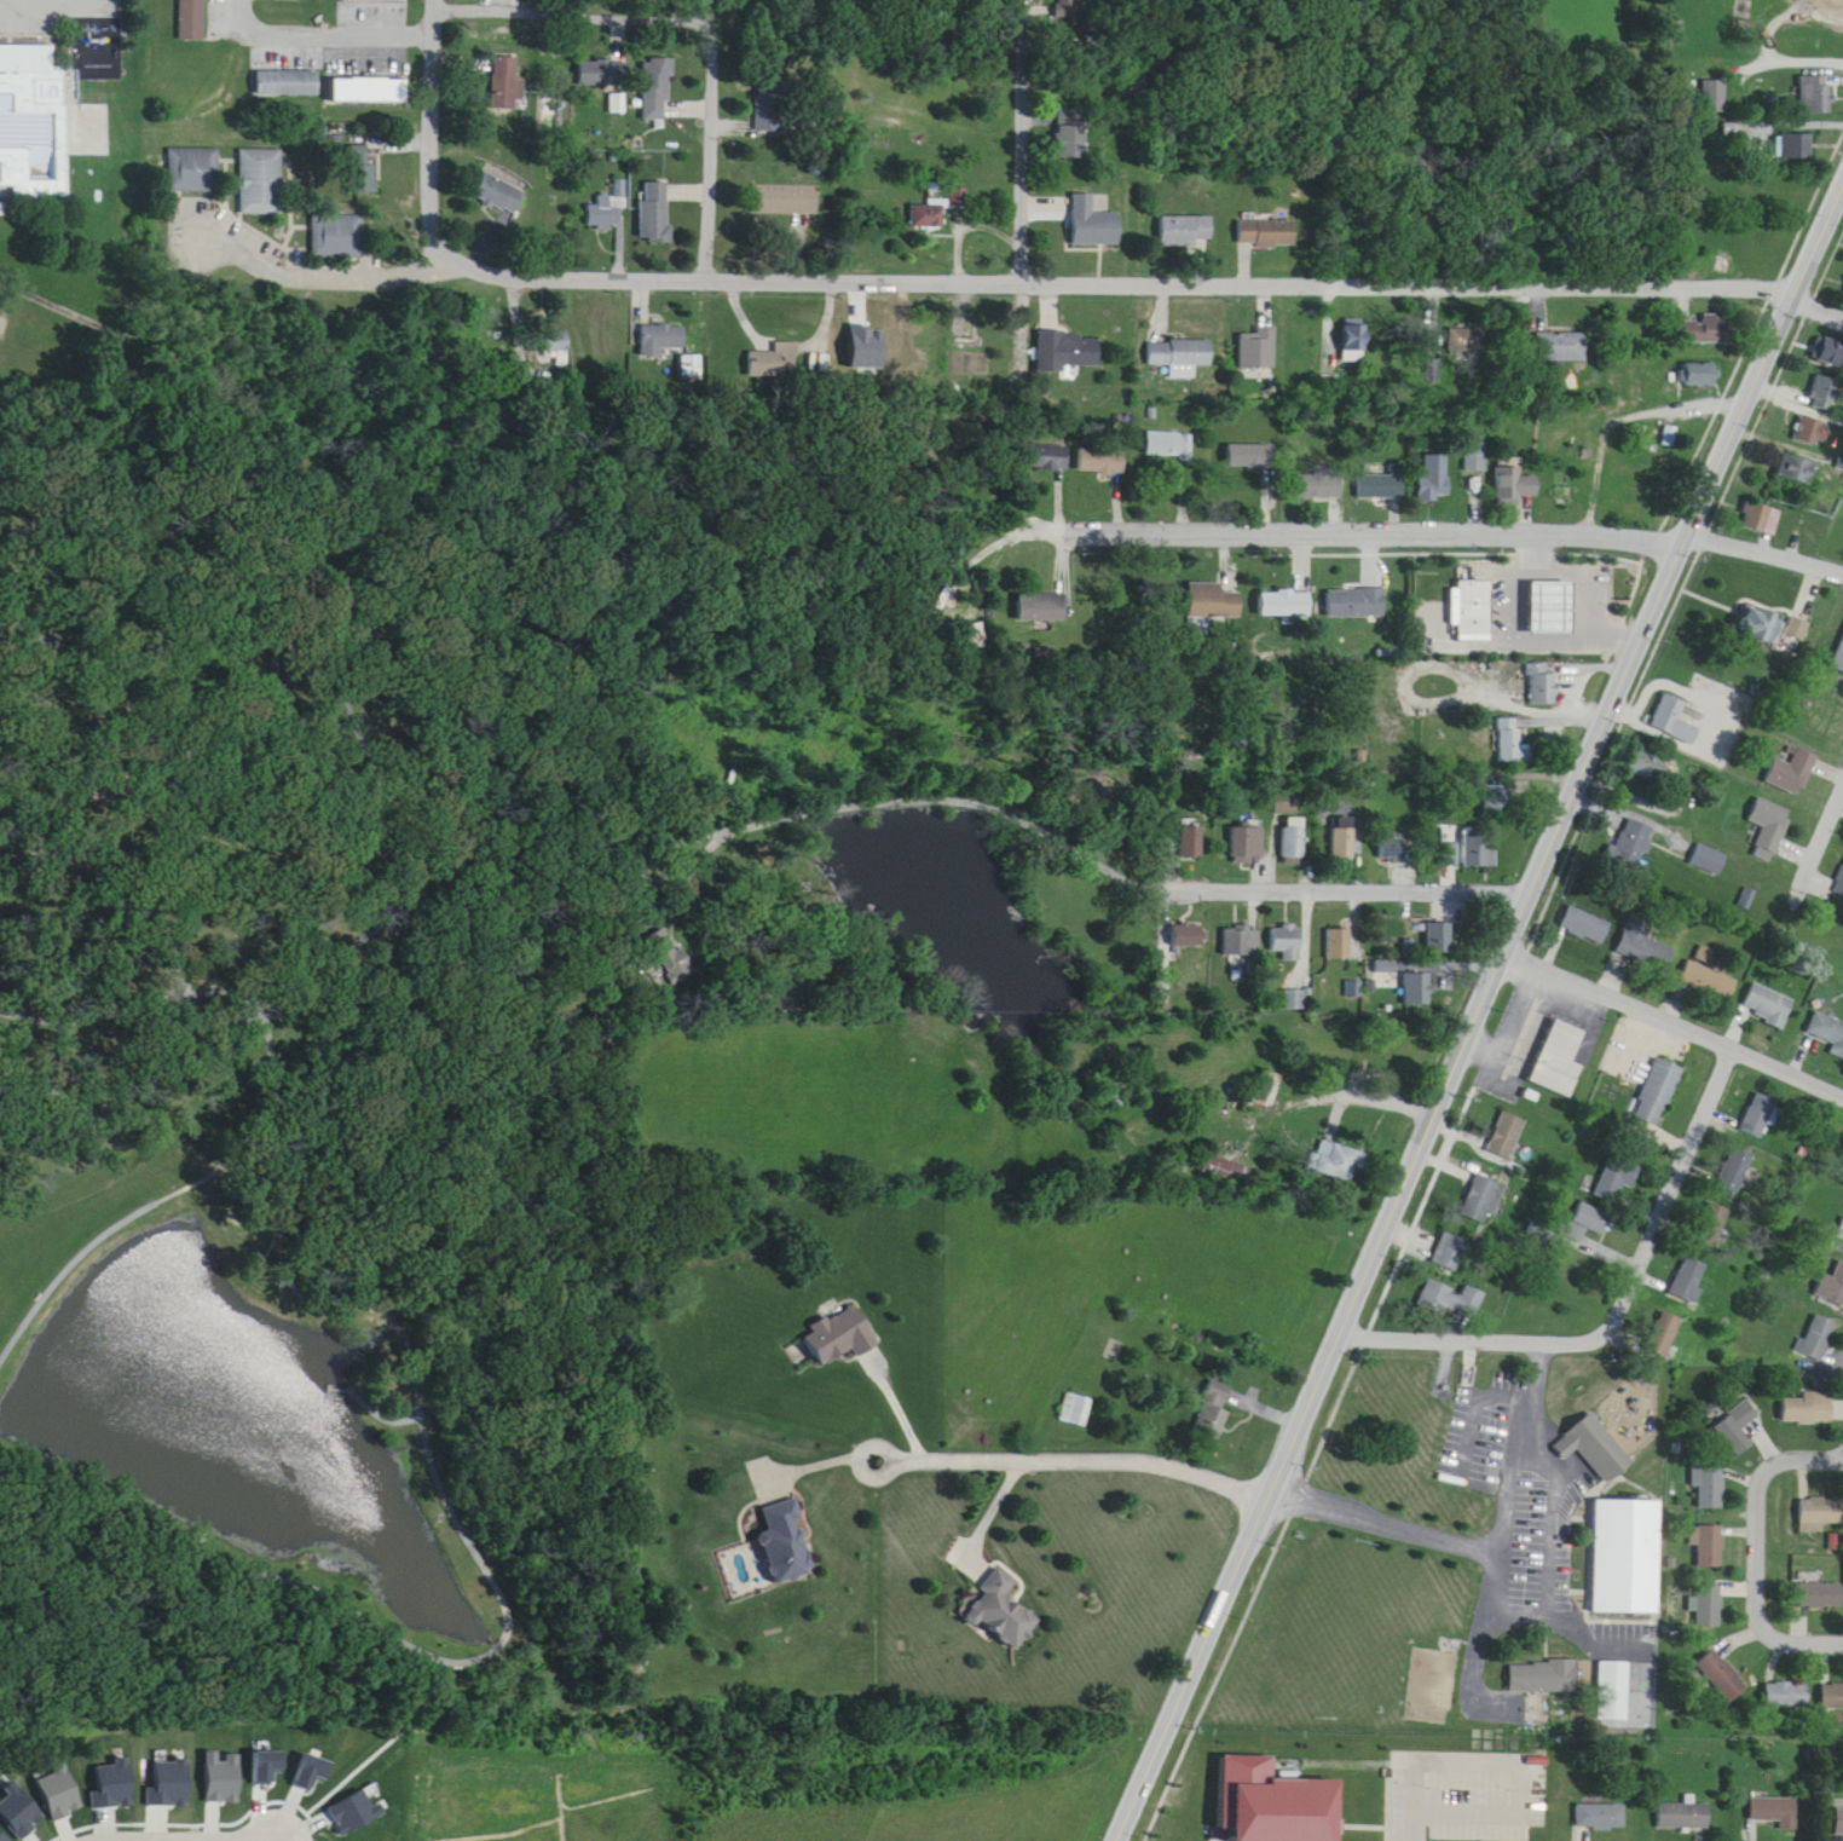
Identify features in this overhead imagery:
building: (375, 0)
building: (1830, 4)
building: (1069, 7)
parking lot: (42, 8)
building: (189, 11)
building: (1764, 11)
road: (336, 21)
road: (1792, 52)
building: (287, 67)
building: (602, 73)
building: (368, 74)
road: (715, 75)
building: (1813, 79)
building: (288, 82)
building: (507, 82)
building: (657, 88)
building: (369, 90)
building: (1819, 94)
building: (1715, 97)
building: (617, 103)
water park: (33, 108)
building: (768, 114)
building: (31, 121)
road: (431, 125)
building: (1792, 129)
building: (1070, 134)
road: (1021, 135)
building: (1798, 145)
building: (195, 152)
building: (358, 152)
building: (261, 166)
park: (69, 185)
building: (499, 194)
building: (786, 200)
building: (1, 209)
building: (657, 212)
building: (605, 213)
building: (928, 215)
building: (337, 220)
building: (1093, 223)
building: (1186, 231)
building: (1266, 233)
road: (320, 262)
road: (1115, 269)
road: (1818, 285)
park: (7, 307)
building: (1702, 313)
building: (1556, 329)
building: (1710, 330)
building: (663, 339)
building: (1354, 342)
building: (1464, 342)
building: (1560, 347)
building: (1260, 350)
building: (555, 351)
building: (1067, 351)
building: (1830, 353)
building: (1183, 356)
building: (1697, 357)
building: (772, 363)
building: (1700, 374)
road: (1724, 386)
building: (1826, 393)
building: (1169, 429)
building: (1813, 431)
building: (1247, 437)
building: (1472, 438)
building: (1046, 440)
building: (1172, 444)
building: (1103, 445)
building: (1047, 456)
building: (1252, 456)
building: (1475, 456)
building: (1103, 461)
building: (1429, 462)
building: (1316, 466)
building: (1509, 466)
building: (1375, 468)
building: (1797, 468)
building: (1321, 481)
building: (1381, 481)
building: (1637, 491)
building: (1761, 518)
road: (1370, 521)
road: (1449, 539)
road: (1762, 539)
road: (1681, 583)
building: (1212, 584)
building: (1354, 584)
building: (1284, 585)
gas station: (1541, 588)
building: (1469, 589)
building: (1044, 593)
building: (1357, 602)
building: (1286, 604)
building: (1041, 607)
building: (1552, 621)
building: (1774, 624)
road: (1508, 637)
building: (1839, 659)
building: (1537, 668)
building: (1543, 686)
building: (1670, 702)
building: (1674, 720)
building: (1508, 726)
building: (1512, 741)
building: (1648, 766)
building: (1792, 773)
building: (1490, 781)
road: (383, 787)
road: (834, 795)
building: (1497, 800)
building: (1286, 802)
building: (1192, 825)
building: (1244, 825)
building: (1290, 825)
building: (1342, 826)
building: (1387, 829)
building: (1769, 829)
building: (1463, 832)
road: (1822, 832)
road: (25, 837)
building: (1189, 842)
building: (1252, 842)
building: (1344, 843)
building: (1631, 844)
building: (1393, 847)
building: (1478, 852)
building: (1709, 860)
road: (1345, 878)
building: (1839, 887)
road: (112, 899)
building: (1184, 919)
building: (1432, 919)
building: (1283, 924)
building: (1240, 925)
building: (1585, 927)
building: (1336, 928)
building: (660, 936)
building: (1186, 936)
building: (1438, 939)
building: (1287, 942)
building: (1339, 945)
building: (1240, 948)
building: (1646, 950)
building: (198, 956)
building: (1386, 968)
building: (641, 969)
building: (1411, 970)
road: (238, 979)
building: (1292, 982)
building: (1709, 982)
road: (1617, 986)
building: (1417, 989)
road: (98, 1002)
road: (1475, 1002)
building: (1769, 1006)
building: (1827, 1028)
building: (1544, 1038)
road: (283, 1055)
building: (1842, 1057)
road: (1786, 1058)
park: (306, 1066)
building: (1651, 1073)
road: (1336, 1083)
building: (1266, 1089)
building: (1658, 1092)
building: (1751, 1100)
building: (1760, 1116)
building: (1497, 1118)
building: (1506, 1136)
building: (1727, 1152)
building: (1611, 1159)
building: (1336, 1160)
building: (1737, 1171)
building: (1617, 1178)
building: (1473, 1179)
building: (1481, 1200)
building: (1582, 1204)
road: (1653, 1204)
building: (1703, 1207)
building: (1838, 1213)
building: (1584, 1223)
building: (1712, 1224)
building: (1841, 1234)
building: (1439, 1236)
building: (1449, 1252)
building: (1680, 1262)
building: (1830, 1268)
building: (1689, 1279)
building: (1443, 1281)
building: (1449, 1299)
building: (1656, 1316)
building: (1812, 1322)
road: (1440, 1323)
building: (842, 1334)
building: (1665, 1335)
building: (1819, 1338)
building: (1802, 1391)
road: (379, 1396)
road: (896, 1408)
building: (1731, 1409)
building: (1810, 1409)
building: (1075, 1410)
building: (1212, 1412)
building: (1618, 1415)
road: (1467, 1421)
building: (1588, 1426)
road: (424, 1427)
building: (1739, 1430)
road: (1521, 1432)
building: (1590, 1445)
road: (814, 1460)
road: (1073, 1460)
building: (1706, 1466)
building: (1710, 1487)
building: (1814, 1495)
parking lot: (1525, 1497)
road: (1386, 1510)
road: (983, 1516)
building: (1820, 1516)
building: (1705, 1529)
building: (1619, 1539)
road: (1760, 1540)
building: (786, 1545)
building: (1711, 1547)
road: (1547, 1565)
building: (1813, 1577)
road: (1254, 1581)
building: (1703, 1588)
building: (1821, 1595)
building: (1710, 1606)
building: (1003, 1612)
road: (1595, 1629)
building: (1716, 1657)
building: (1536, 1660)
road: (1471, 1674)
building: (1605, 1674)
building: (1778, 1675)
building: (1542, 1676)
building: (1722, 1676)
building: (1827, 1676)
building: (1786, 1696)
building: (1832, 1696)
parking lot: (1387, 1735)
road: (1323, 1749)
road: (1516, 1751)
parking lot: (1460, 1781)
building: (1265, 1793)
road: (1385, 1794)
road: (1354, 1812)
building: (1776, 1812)
building: (1600, 1817)
building: (1683, 1817)
road: (1409, 1819)
building: (1839, 1823)
road: (1226, 1834)
road: (1254, 1837)
road: (1272, 1839)
road: (148, 1840)

